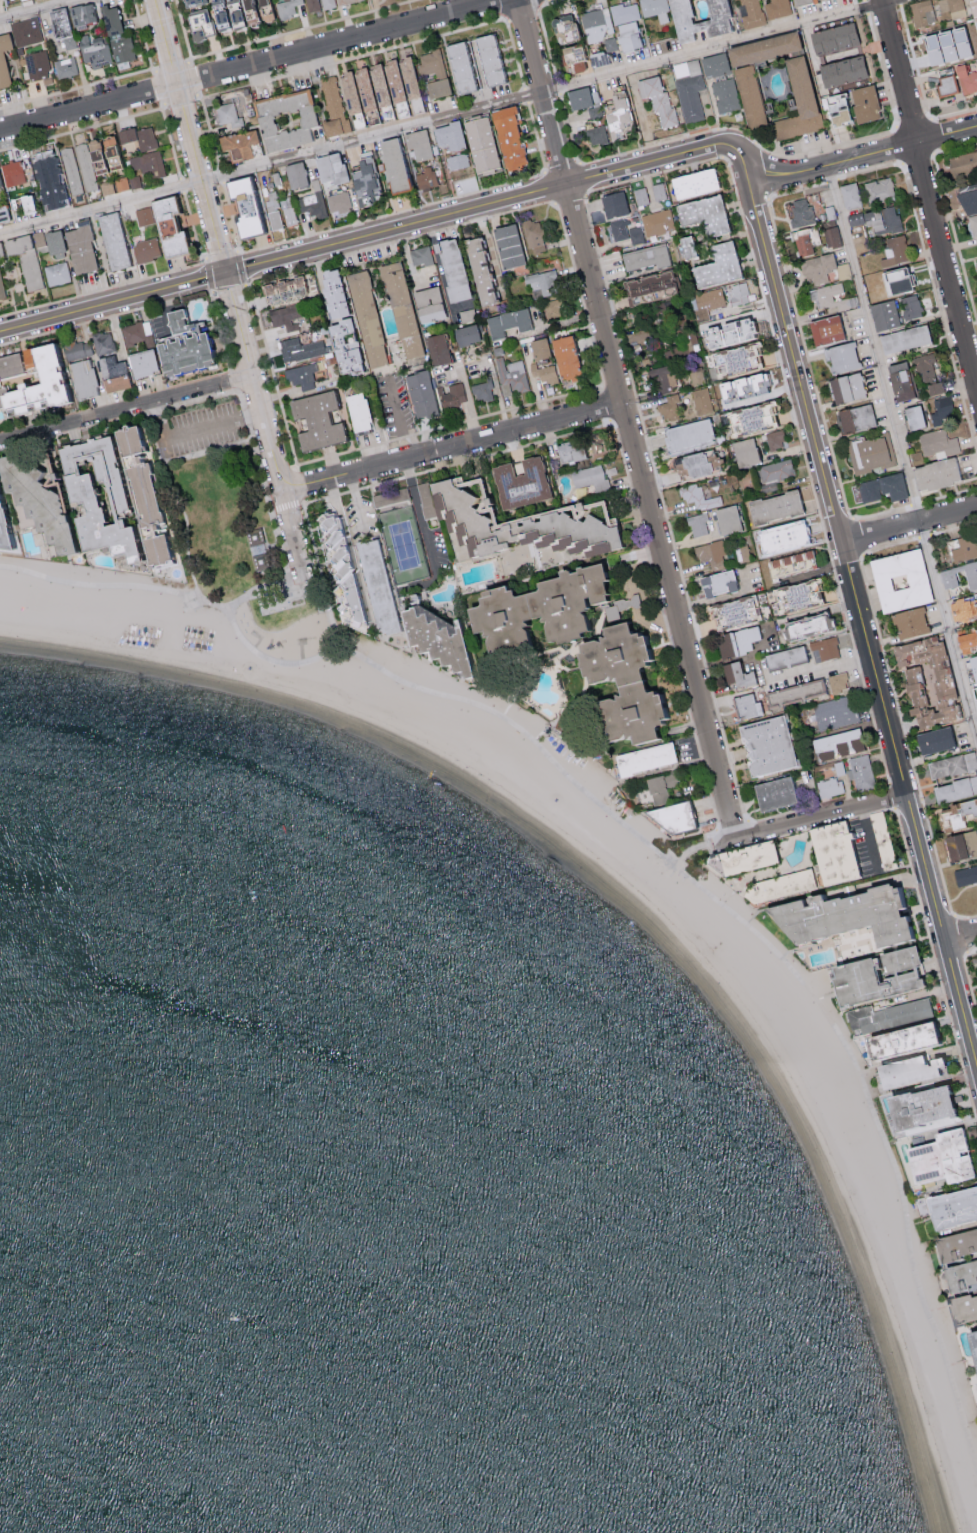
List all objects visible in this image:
building: (190, 1)
building: (345, 1)
road: (548, 1)
road: (552, 1)
building: (797, 1)
road: (899, 2)
building: (328, 3)
building: (775, 7)
road: (866, 7)
building: (952, 7)
road: (37, 9)
road: (505, 9)
building: (286, 10)
road: (524, 10)
building: (81, 12)
building: (921, 12)
building: (751, 14)
building: (973, 15)
building: (688, 16)
building: (109, 19)
building: (199, 23)
building: (596, 23)
building: (625, 24)
building: (60, 25)
building: (564, 27)
road: (301, 29)
building: (25, 30)
road: (184, 31)
road: (143, 34)
building: (831, 37)
road: (545, 38)
building: (944, 44)
building: (121, 47)
building: (761, 47)
building: (94, 50)
road: (514, 54)
building: (572, 56)
road: (355, 57)
building: (597, 57)
building: (3, 58)
building: (429, 63)
building: (714, 63)
building: (37, 65)
building: (65, 66)
road: (172, 66)
building: (458, 66)
road: (915, 66)
road: (255, 67)
road: (882, 69)
building: (840, 70)
road: (192, 78)
building: (966, 78)
building: (345, 81)
building: (394, 82)
building: (945, 84)
building: (363, 86)
building: (436, 86)
road: (557, 86)
road: (78, 87)
road: (160, 87)
building: (725, 94)
building: (748, 94)
road: (525, 95)
building: (578, 97)
building: (690, 97)
road: (181, 98)
building: (657, 99)
building: (798, 101)
building: (863, 102)
building: (332, 107)
building: (835, 107)
building: (614, 112)
road: (958, 112)
building: (227, 114)
road: (640, 116)
road: (445, 117)
building: (284, 118)
road: (897, 126)
road: (738, 127)
road: (81, 128)
road: (568, 128)
road: (210, 129)
building: (124, 133)
building: (447, 134)
building: (597, 134)
road: (189, 135)
road: (932, 135)
building: (506, 136)
building: (145, 137)
road: (537, 137)
road: (170, 139)
road: (720, 142)
building: (237, 143)
building: (416, 143)
building: (479, 144)
road: (648, 145)
road: (825, 146)
road: (864, 154)
road: (919, 157)
building: (94, 159)
building: (456, 160)
building: (146, 163)
building: (391, 163)
building: (963, 163)
building: (329, 167)
road: (561, 167)
road: (762, 168)
road: (867, 170)
building: (14, 171)
building: (294, 173)
road: (653, 173)
road: (221, 175)
building: (425, 177)
road: (582, 178)
road: (832, 179)
building: (0, 181)
building: (47, 181)
building: (692, 182)
road: (181, 184)
road: (549, 187)
road: (797, 188)
building: (878, 189)
building: (658, 190)
road: (930, 191)
building: (969, 191)
building: (849, 194)
building: (640, 195)
road: (570, 198)
building: (338, 202)
building: (23, 203)
road: (495, 203)
building: (614, 203)
building: (312, 204)
building: (272, 209)
building: (288, 210)
building: (799, 211)
building: (3, 213)
road: (390, 213)
building: (702, 213)
building: (143, 215)
road: (232, 216)
road: (949, 216)
building: (875, 219)
building: (657, 222)
building: (972, 223)
building: (165, 225)
road: (192, 226)
building: (625, 230)
building: (533, 236)
building: (831, 236)
building: (38, 238)
road: (401, 239)
building: (111, 240)
building: (53, 242)
building: (804, 244)
building: (506, 245)
building: (686, 245)
building: (79, 248)
building: (145, 249)
building: (894, 249)
road: (221, 254)
building: (419, 255)
building: (645, 257)
building: (23, 258)
building: (716, 264)
road: (241, 267)
building: (449, 267)
building: (975, 267)
building: (823, 268)
building: (478, 269)
traffic signals: (224, 272)
building: (56, 273)
road: (208, 274)
building: (896, 279)
road: (246, 282)
building: (542, 282)
road: (228, 287)
building: (647, 287)
building: (1, 288)
road: (104, 288)
building: (331, 291)
building: (737, 293)
road: (581, 295)
building: (831, 296)
road: (112, 301)
road: (937, 302)
building: (427, 303)
building: (911, 305)
building: (553, 307)
building: (403, 310)
building: (883, 314)
building: (287, 315)
road: (105, 316)
building: (368, 320)
building: (506, 322)
building: (824, 329)
road: (219, 330)
building: (135, 331)
building: (732, 331)
building: (465, 334)
building: (904, 338)
building: (102, 341)
building: (179, 345)
building: (684, 345)
building: (342, 346)
building: (299, 348)
building: (436, 348)
building: (538, 348)
building: (77, 349)
building: (840, 356)
building: (564, 357)
building: (735, 358)
building: (140, 362)
building: (646, 362)
building: (9, 364)
building: (927, 372)
building: (546, 373)
road: (272, 374)
building: (302, 375)
building: (511, 375)
building: (695, 375)
building: (81, 378)
road: (234, 379)
building: (898, 380)
road: (252, 381)
building: (34, 383)
building: (753, 383)
building: (845, 386)
road: (815, 387)
building: (482, 389)
building: (419, 393)
building: (452, 394)
building: (701, 400)
building: (723, 401)
road: (607, 404)
road: (125, 406)
building: (668, 406)
building: (356, 411)
road: (252, 416)
building: (912, 416)
road: (118, 417)
building: (854, 417)
road: (625, 418)
building: (750, 418)
building: (314, 419)
road: (398, 419)
road: (449, 424)
parking lot: (199, 427)
road: (184, 432)
building: (687, 434)
building: (122, 438)
building: (775, 439)
building: (938, 443)
road: (451, 447)
building: (568, 451)
building: (744, 451)
road: (902, 452)
building: (868, 453)
building: (916, 457)
road: (457, 461)
building: (691, 464)
road: (808, 468)
building: (777, 470)
road: (277, 473)
building: (934, 473)
building: (589, 477)
building: (518, 482)
road: (263, 484)
road: (298, 484)
building: (884, 487)
building: (139, 489)
road: (949, 494)
building: (47, 495)
building: (153, 495)
building: (389, 496)
building: (698, 497)
building: (108, 498)
road: (177, 498)
road: (284, 498)
road: (358, 501)
road: (915, 503)
building: (773, 506)
road: (664, 508)
road: (419, 514)
building: (726, 519)
road: (910, 519)
building: (8, 520)
building: (697, 523)
building: (509, 524)
road: (953, 528)
road: (294, 531)
park: (240, 535)
building: (780, 536)
road: (857, 536)
road: (923, 536)
building: (259, 538)
road: (314, 545)
park: (404, 545)
road: (889, 545)
building: (151, 546)
building: (336, 546)
building: (965, 548)
building: (743, 552)
building: (710, 553)
building: (792, 562)
building: (264, 563)
building: (948, 578)
building: (899, 580)
building: (718, 582)
building: (380, 586)
road: (300, 590)
building: (796, 593)
park: (26, 595)
building: (351, 605)
building: (616, 608)
building: (541, 610)
building: (732, 611)
road: (863, 615)
building: (909, 622)
building: (806, 625)
building: (976, 626)
road: (669, 634)
building: (438, 640)
building: (736, 640)
building: (966, 641)
building: (825, 647)
building: (784, 657)
building: (973, 666)
building: (736, 673)
building: (926, 680)
building: (838, 681)
building: (627, 686)
building: (976, 691)
building: (746, 706)
building: (836, 712)
building: (934, 740)
building: (836, 744)
building: (765, 745)
building: (643, 758)
building: (970, 760)
building: (945, 766)
building: (837, 767)
building: (861, 772)
building: (661, 785)
building: (829, 786)
building: (955, 789)
building: (772, 793)
road: (892, 796)
building: (957, 814)
road: (774, 817)
road: (810, 818)
building: (677, 820)
road: (732, 824)
road: (805, 830)
road: (638, 837)
road: (868, 839)
road: (717, 840)
building: (961, 845)
road: (709, 848)
road: (689, 850)
road: (713, 852)
building: (836, 855)
building: (751, 861)
building: (965, 874)
building: (783, 887)
building: (848, 917)
road: (966, 918)
road: (960, 935)
road: (962, 938)
building: (976, 959)
road: (936, 964)
building: (881, 978)
road: (967, 978)
building: (889, 1018)
building: (908, 1042)
road: (908, 1059)
building: (913, 1073)
building: (925, 1110)
park: (852, 1128)
building: (943, 1160)
building: (956, 1211)
building: (960, 1248)
building: (964, 1280)
building: (966, 1312)
building: (975, 1340)

